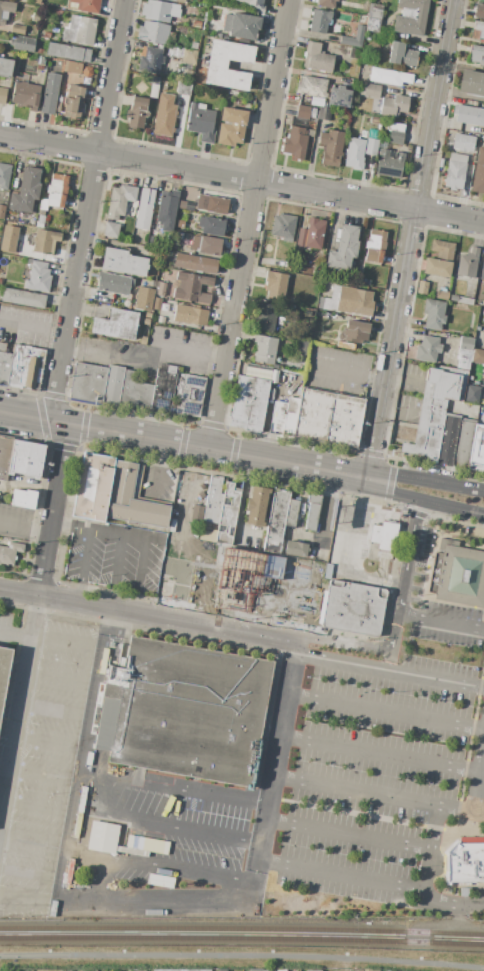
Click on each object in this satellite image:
building: (483, 0)
building: (177, 1)
building: (211, 1)
building: (327, 3)
building: (252, 4)
building: (87, 5)
building: (5, 10)
building: (159, 11)
building: (377, 11)
building: (479, 12)
building: (56, 13)
building: (35, 15)
building: (411, 17)
building: (319, 21)
building: (227, 23)
building: (195, 24)
building: (373, 25)
building: (244, 26)
building: (17, 29)
building: (80, 30)
building: (478, 30)
building: (153, 33)
building: (47, 35)
building: (354, 38)
building: (22, 43)
building: (194, 46)
building: (39, 51)
building: (68, 52)
building: (353, 53)
building: (402, 55)
building: (476, 55)
building: (188, 56)
building: (317, 58)
building: (40, 60)
building: (150, 61)
building: (72, 67)
building: (216, 67)
building: (5, 68)
building: (173, 71)
building: (389, 77)
building: (154, 80)
building: (471, 83)
building: (311, 86)
building: (183, 88)
building: (153, 90)
building: (369, 90)
building: (62, 91)
building: (88, 92)
building: (50, 93)
building: (2, 95)
building: (25, 95)
building: (339, 97)
building: (73, 102)
building: (317, 102)
building: (58, 105)
building: (393, 106)
building: (137, 112)
building: (302, 112)
building: (312, 113)
building: (324, 114)
building: (468, 114)
building: (164, 115)
building: (375, 120)
building: (200, 121)
building: (231, 127)
building: (396, 127)
building: (310, 133)
building: (395, 137)
building: (295, 142)
building: (464, 143)
building: (331, 147)
building: (371, 147)
building: (355, 153)
building: (389, 163)
building: (441, 163)
building: (455, 171)
building: (478, 172)
building: (4, 175)
road: (242, 177)
building: (57, 190)
building: (26, 192)
building: (188, 198)
building: (119, 200)
building: (43, 204)
building: (212, 204)
building: (144, 209)
building: (1, 210)
building: (167, 210)
building: (40, 212)
building: (39, 222)
building: (180, 224)
road: (248, 224)
building: (211, 226)
building: (283, 226)
building: (111, 229)
building: (311, 234)
road: (409, 239)
building: (45, 242)
building: (11, 243)
building: (206, 245)
building: (375, 246)
building: (344, 249)
building: (167, 254)
building: (439, 259)
building: (312, 260)
building: (123, 262)
building: (195, 263)
building: (282, 264)
building: (467, 264)
building: (482, 271)
building: (38, 277)
building: (1, 281)
building: (365, 282)
building: (114, 283)
building: (150, 284)
building: (274, 285)
building: (422, 287)
building: (191, 288)
building: (160, 289)
building: (441, 295)
road: (72, 296)
building: (334, 297)
building: (23, 298)
building: (453, 298)
building: (144, 299)
building: (465, 300)
building: (355, 301)
building: (156, 303)
building: (321, 303)
building: (305, 314)
building: (434, 314)
building: (148, 315)
building: (189, 315)
building: (265, 317)
building: (146, 321)
building: (116, 324)
building: (354, 332)
building: (288, 335)
building: (143, 340)
building: (465, 343)
building: (300, 347)
road: (119, 349)
building: (264, 349)
building: (427, 349)
building: (477, 356)
building: (463, 359)
building: (4, 363)
building: (275, 367)
building: (25, 368)
road: (364, 375)
building: (483, 375)
building: (476, 382)
building: (110, 386)
building: (189, 389)
building: (295, 392)
building: (472, 394)
road: (52, 395)
building: (249, 403)
building: (435, 409)
road: (396, 411)
building: (284, 416)
building: (328, 418)
road: (191, 422)
building: (447, 440)
road: (183, 444)
building: (462, 444)
road: (57, 445)
building: (477, 449)
road: (233, 450)
building: (5, 457)
building: (26, 458)
road: (394, 462)
road: (158, 468)
road: (425, 480)
building: (93, 487)
building: (24, 498)
building: (133, 498)
building: (314, 498)
building: (213, 500)
road: (423, 501)
building: (256, 506)
building: (292, 513)
road: (417, 513)
building: (227, 514)
building: (312, 517)
building: (276, 520)
road: (25, 524)
building: (375, 534)
building: (208, 535)
road: (134, 536)
building: (387, 536)
building: (295, 548)
building: (10, 553)
road: (344, 554)
road: (82, 564)
building: (220, 569)
road: (404, 574)
building: (457, 575)
building: (353, 608)
road: (196, 620)
road: (441, 622)
road: (13, 634)
road: (65, 640)
road: (340, 662)
building: (4, 670)
road: (58, 677)
road: (424, 679)
road: (18, 681)
road: (51, 710)
building: (187, 710)
road: (384, 714)
road: (88, 722)
road: (45, 743)
road: (272, 746)
road: (385, 757)
parking lot: (372, 759)
road: (38, 776)
road: (171, 781)
road: (376, 795)
road: (477, 795)
road: (35, 810)
road: (163, 825)
road: (431, 830)
road: (155, 862)
building: (464, 864)
road: (296, 865)
road: (43, 872)
road: (55, 886)
building: (465, 892)
road: (447, 903)
railway: (242, 930)
railway: (242, 940)
road: (242, 955)
park: (240, 960)
building: (181, 970)
building: (222, 970)
building: (261, 970)
building: (281, 970)
building: (313, 970)
building: (369, 970)

